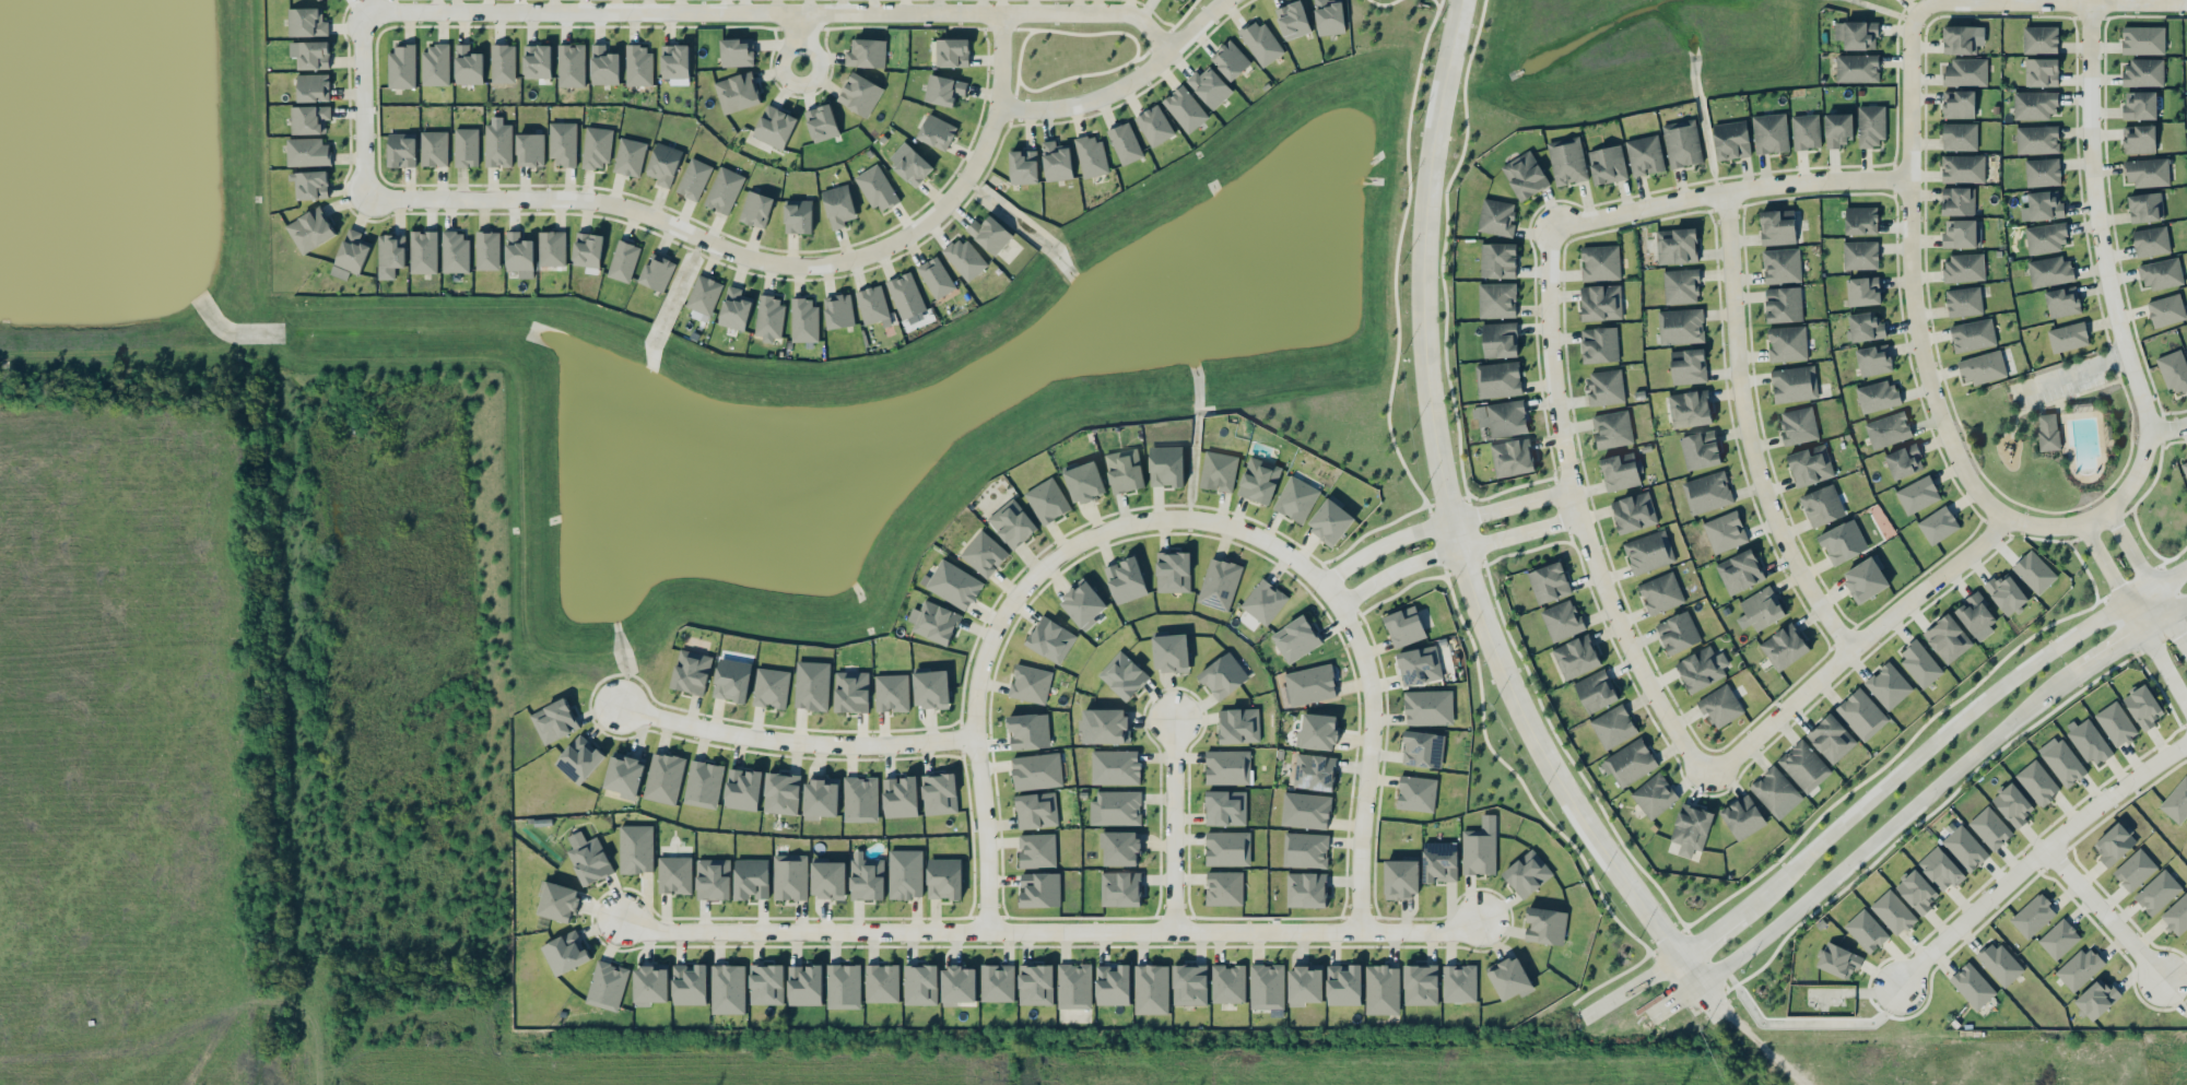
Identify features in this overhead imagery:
building: (319, 0)
road: (2051, 1)
road: (773, 11)
building: (1329, 16)
building: (1293, 20)
building: (306, 22)
road: (1080, 33)
building: (1860, 35)
road: (800, 37)
building: (1960, 39)
building: (2039, 39)
building: (2143, 39)
building: (1261, 43)
building: (737, 51)
building: (867, 52)
building: (953, 52)
building: (313, 55)
building: (1230, 59)
building: (537, 61)
building: (503, 63)
building: (675, 63)
building: (435, 64)
building: (468, 64)
building: (571, 64)
building: (401, 66)
building: (604, 66)
building: (638, 66)
road: (1018, 66)
building: (1857, 68)
building: (1965, 72)
building: (2042, 72)
building: (2143, 72)
road: (1089, 73)
road: (1125, 83)
building: (1209, 86)
building: (313, 87)
building: (943, 90)
building: (738, 92)
building: (860, 94)
road: (362, 103)
building: (1959, 104)
building: (2034, 104)
building: (2140, 105)
building: (1185, 108)
building: (309, 119)
building: (821, 122)
building: (1154, 125)
building: (1871, 125)
building: (774, 127)
building: (1838, 130)
building: (937, 131)
building: (1806, 131)
building: (1769, 133)
building: (1960, 135)
building: (2037, 139)
building: (2139, 139)
building: (1731, 140)
building: (563, 143)
building: (1125, 143)
building: (1682, 143)
building: (497, 144)
building: (466, 146)
building: (597, 146)
building: (434, 148)
building: (530, 149)
building: (402, 150)
building: (308, 152)
building: (1645, 154)
building: (1091, 155)
building: (630, 156)
building: (1056, 161)
building: (1567, 162)
building: (663, 164)
building: (1607, 164)
building: (912, 166)
building: (1023, 166)
building: (1963, 168)
building: (2043, 172)
building: (2147, 172)
building: (1525, 175)
building: (694, 178)
building: (310, 184)
building: (877, 188)
road: (1730, 188)
building: (724, 190)
building: (1957, 200)
building: (2045, 204)
building: (838, 205)
building: (2150, 207)
building: (756, 209)
building: (798, 215)
building: (1496, 216)
building: (1861, 220)
building: (1778, 226)
building: (310, 229)
building: (1960, 233)
building: (989, 234)
building: (2047, 237)
building: (2151, 240)
building: (552, 248)
building: (487, 250)
building: (587, 250)
building: (423, 251)
building: (456, 252)
building: (519, 252)
building: (351, 255)
building: (390, 255)
building: (1860, 255)
road: (761, 258)
building: (965, 258)
building: (1497, 260)
building: (623, 261)
building: (1600, 262)
building: (1782, 266)
building: (1964, 267)
road: (2106, 270)
building: (2050, 271)
building: (657, 272)
building: (2162, 273)
building: (936, 276)
building: (1681, 285)
building: (1863, 291)
building: (704, 295)
building: (906, 296)
building: (1497, 299)
building: (1964, 300)
building: (2062, 300)
building: (1601, 302)
building: (1784, 304)
building: (873, 305)
building: (734, 309)
building: (2166, 309)
building: (839, 310)
building: (769, 318)
building: (803, 319)
road: (1917, 320)
building: (1681, 326)
building: (1866, 326)
building: (1973, 334)
building: (2068, 337)
building: (1500, 340)
building: (1787, 343)
building: (1599, 344)
building: (1874, 359)
building: (1690, 367)
building: (1982, 367)
road: (2073, 370)
building: (2174, 370)
building: (1498, 379)
building: (1795, 384)
building: (1606, 387)
building: (1877, 396)
building: (1690, 409)
building: (1502, 417)
building: (1798, 425)
road: (2167, 427)
building: (1612, 428)
building: (1888, 429)
road: (1749, 432)
building: (2048, 432)
building: (1701, 449)
building: (1513, 457)
building: (1905, 461)
building: (1811, 464)
building: (1166, 465)
building: (2185, 467)
building: (1125, 470)
building: (1219, 471)
building: (1259, 480)
building: (1084, 482)
building: (1707, 492)
building: (1918, 494)
building: (1295, 498)
building: (1047, 500)
building: (1822, 505)
road: (1448, 506)
building: (1634, 511)
road: (1580, 518)
building: (1330, 520)
building: (1012, 522)
road: (1442, 523)
building: (1938, 524)
building: (1725, 531)
building: (1843, 542)
road: (1455, 551)
building: (1647, 552)
building: (984, 553)
building: (1173, 571)
building: (1740, 571)
building: (2034, 571)
road: (2150, 577)
building: (1125, 579)
building: (1866, 579)
building: (1549, 582)
building: (952, 583)
road: (1026, 583)
building: (1219, 583)
building: (1661, 592)
building: (2006, 593)
building: (1263, 601)
building: (1083, 603)
building: (1761, 609)
road: (2178, 612)
road: (2135, 613)
building: (1976, 615)
building: (1562, 620)
building: (934, 622)
building: (1403, 626)
building: (1678, 633)
building: (1295, 638)
building: (1948, 638)
building: (1050, 639)
building: (1784, 646)
road: (1856, 646)
building: (1171, 652)
road: (2107, 654)
building: (1576, 656)
building: (1919, 663)
building: (1420, 665)
building: (1702, 668)
building: (691, 671)
building: (1122, 675)
building: (1223, 675)
building: (732, 679)
building: (1030, 683)
building: (812, 685)
building: (1308, 685)
building: (1889, 685)
building: (771, 687)
building: (931, 688)
building: (1596, 691)
building: (851, 692)
building: (891, 692)
building: (1720, 706)
building: (1428, 707)
building: (2144, 707)
building: (1861, 713)
building: (556, 721)
building: (2116, 723)
building: (1238, 724)
building: (1105, 726)
building: (1613, 726)
building: (1028, 731)
building: (1319, 731)
building: (1832, 738)
road: (795, 741)
building: (2090, 742)
building: (1423, 748)
road: (1926, 750)
building: (579, 759)
building: (2061, 760)
building: (1630, 763)
building: (1115, 766)
building: (1227, 766)
road: (1367, 766)
building: (1804, 766)
building: (1036, 770)
building: (1314, 771)
building: (624, 775)
building: (663, 778)
building: (2038, 782)
building: (703, 783)
building: (743, 789)
building: (781, 792)
building: (1416, 792)
building: (1776, 792)
building: (939, 793)
building: (1654, 795)
building: (901, 797)
building: (821, 798)
building: (860, 799)
building: (2176, 802)
building: (2013, 804)
building: (1116, 807)
building: (1225, 807)
building: (1036, 810)
building: (1306, 810)
building: (1742, 816)
road: (1174, 825)
building: (1990, 827)
building: (1691, 828)
road: (1874, 840)
building: (2114, 844)
building: (1480, 847)
building: (636, 848)
building: (1121, 848)
building: (1227, 848)
building: (1964, 848)
building: (1305, 849)
building: (1037, 850)
road: (2034, 853)
building: (588, 858)
building: (1439, 861)
building: (1940, 869)
building: (2135, 870)
building: (905, 873)
building: (1527, 873)
building: (674, 874)
building: (789, 876)
building: (944, 877)
building: (1401, 877)
building: (713, 878)
building: (751, 878)
building: (867, 878)
building: (828, 880)
building: (1224, 887)
building: (1120, 888)
building: (1040, 889)
building: (1306, 889)
building: (1918, 892)
building: (2157, 892)
building: (558, 901)
road: (2102, 911)
building: (1893, 912)
building: (2033, 915)
building: (2176, 915)
building: (1545, 925)
building: (1867, 931)
road: (803, 932)
road: (1235, 932)
building: (2059, 939)
building: (565, 953)
building: (1838, 960)
building: (1999, 963)
building: (2080, 967)
road: (1692, 970)
building: (1509, 978)
building: (882, 982)
building: (997, 982)
building: (1459, 982)
building: (690, 983)
building: (766, 983)
building: (920, 983)
building: (1036, 983)
building: (1113, 983)
building: (1228, 983)
building: (1343, 983)
building: (650, 984)
building: (804, 984)
building: (959, 984)
building: (1189, 984)
building: (1305, 984)
building: (1421, 984)
road: (1633, 984)
building: (607, 986)
building: (844, 986)
building: (1073, 986)
building: (1266, 986)
building: (1973, 986)
building: (728, 989)
building: (1151, 989)
building: (1381, 989)
building: (2097, 998)
road: (1678, 1000)
road: (1713, 1000)

